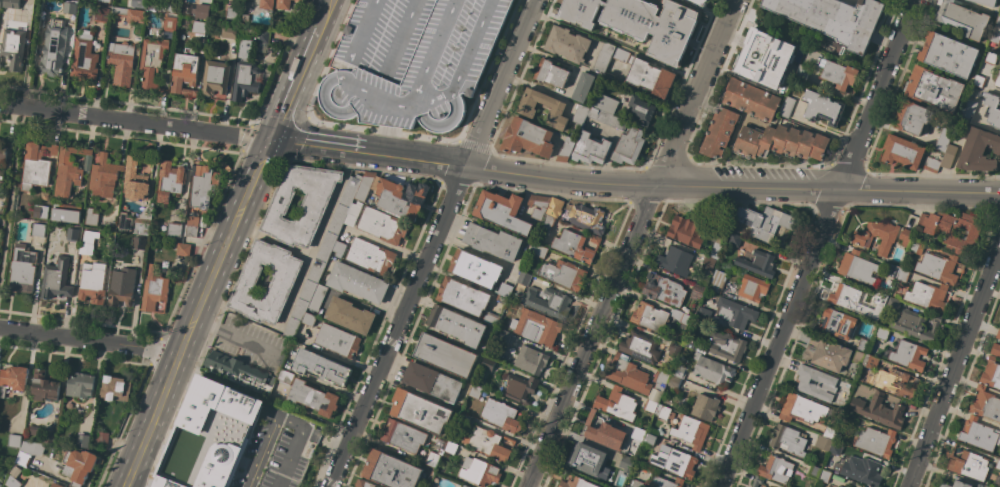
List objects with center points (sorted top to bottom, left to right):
building: (299, 0)
building: (302, 0)
building: (0, 2)
building: (103, 2)
building: (702, 2)
building: (986, 2)
building: (137, 3)
building: (11, 4)
building: (266, 4)
building: (283, 4)
building: (169, 7)
building: (69, 8)
building: (195, 10)
building: (232, 13)
road: (324, 13)
building: (101, 14)
building: (130, 14)
building: (834, 18)
building: (961, 18)
building: (170, 24)
building: (638, 24)
building: (199, 27)
building: (229, 31)
building: (996, 33)
building: (263, 36)
building: (567, 44)
building: (13, 48)
building: (53, 48)
road: (31, 53)
building: (948, 54)
building: (621, 55)
building: (603, 56)
building: (84, 57)
building: (763, 58)
building: (991, 59)
building: (0, 60)
building: (152, 61)
building: (412, 61)
parking garage: (412, 61)
building: (121, 62)
building: (185, 72)
building: (245, 72)
building: (551, 73)
building: (838, 73)
building: (801, 74)
building: (650, 77)
building: (215, 78)
building: (980, 80)
building: (998, 81)
road: (294, 83)
building: (596, 83)
building: (583, 86)
building: (934, 88)
building: (751, 100)
building: (605, 103)
road: (12, 104)
building: (787, 107)
building: (525, 108)
building: (823, 108)
building: (993, 108)
building: (641, 110)
building: (968, 110)
building: (580, 114)
building: (912, 117)
building: (607, 118)
road: (146, 123)
building: (961, 126)
road: (820, 129)
building: (719, 132)
building: (527, 137)
building: (944, 139)
traffic signals: (270, 141)
building: (780, 142)
building: (629, 146)
building: (590, 148)
building: (566, 149)
building: (903, 151)
building: (979, 151)
building: (2, 153)
road: (368, 153)
building: (949, 156)
building: (932, 163)
building: (37, 165)
building: (0, 170)
building: (70, 170)
parking lot: (764, 173)
building: (104, 176)
building: (1, 177)
building: (134, 180)
building: (170, 180)
building: (204, 186)
building: (365, 186)
road: (732, 186)
road: (12, 188)
building: (400, 197)
building: (315, 202)
building: (539, 206)
building: (355, 209)
building: (40, 211)
building: (502, 211)
building: (66, 212)
building: (551, 215)
building: (91, 217)
building: (587, 217)
building: (125, 222)
building: (765, 222)
building: (382, 225)
building: (141, 226)
building: (38, 229)
building: (175, 229)
building: (954, 229)
building: (191, 230)
building: (686, 230)
road: (231, 231)
building: (72, 234)
building: (721, 234)
building: (906, 237)
road: (273, 239)
building: (735, 239)
building: (861, 240)
building: (493, 241)
building: (89, 242)
building: (138, 243)
road: (631, 243)
road: (818, 243)
road: (433, 244)
building: (575, 245)
road: (390, 246)
building: (916, 247)
building: (183, 249)
building: (338, 249)
building: (538, 250)
building: (322, 255)
building: (370, 256)
building: (906, 259)
building: (675, 261)
building: (708, 263)
building: (758, 263)
building: (859, 267)
building: (938, 267)
building: (475, 268)
building: (22, 269)
building: (893, 271)
building: (561, 274)
building: (903, 275)
road: (302, 277)
building: (524, 278)
building: (56, 279)
building: (717, 281)
building: (91, 282)
building: (356, 282)
building: (282, 283)
building: (122, 285)
building: (752, 287)
building: (155, 288)
building: (664, 289)
building: (504, 292)
building: (697, 292)
building: (463, 296)
building: (928, 296)
building: (317, 298)
building: (853, 300)
building: (886, 301)
building: (548, 302)
building: (735, 313)
building: (704, 314)
building: (349, 315)
building: (658, 317)
building: (490, 318)
building: (309, 319)
building: (838, 323)
building: (915, 324)
building: (457, 325)
building: (884, 325)
building: (536, 327)
building: (882, 333)
building: (998, 333)
road: (230, 336)
building: (503, 336)
road: (186, 337)
road: (70, 338)
building: (337, 340)
building: (689, 342)
building: (864, 344)
building: (640, 347)
building: (728, 348)
building: (674, 349)
building: (995, 349)
road: (160, 350)
building: (826, 353)
building: (445, 355)
building: (908, 355)
building: (859, 357)
building: (530, 360)
building: (870, 361)
building: (488, 364)
building: (321, 367)
road: (954, 368)
building: (712, 369)
building: (679, 371)
building: (238, 372)
building: (991, 373)
building: (628, 375)
building: (286, 378)
building: (13, 379)
building: (661, 379)
building: (674, 381)
building: (432, 382)
building: (816, 382)
building: (895, 383)
building: (80, 385)
building: (44, 387)
building: (520, 388)
building: (115, 389)
building: (476, 392)
building: (313, 397)
building: (617, 404)
building: (986, 404)
building: (650, 405)
building: (705, 407)
building: (805, 409)
building: (879, 410)
building: (420, 411)
building: (665, 413)
building: (501, 415)
building: (847, 419)
road: (151, 420)
road: (282, 420)
building: (33, 430)
building: (690, 431)
building: (829, 432)
building: (611, 433)
building: (979, 434)
building: (49, 436)
building: (403, 436)
building: (207, 437)
building: (650, 439)
building: (14, 440)
building: (82, 440)
building: (101, 440)
road: (322, 440)
building: (788, 440)
building: (876, 441)
building: (487, 443)
building: (823, 443)
building: (450, 447)
building: (836, 448)
parking lot: (276, 451)
building: (29, 452)
building: (433, 459)
building: (591, 461)
building: (674, 462)
building: (627, 463)
building: (998, 464)
building: (80, 465)
building: (969, 465)
building: (776, 469)
building: (390, 470)
building: (479, 471)
building: (862, 471)
building: (814, 472)
building: (824, 476)
building: (757, 481)
building: (12, 482)
building: (666, 482)
building: (363, 483)
building: (577, 483)
building: (636, 483)
building: (955, 484)
building: (56, 485)
building: (0, 486)
building: (626, 486)
building: (764, 486)
building: (840, 486)
building: (987, 486)

